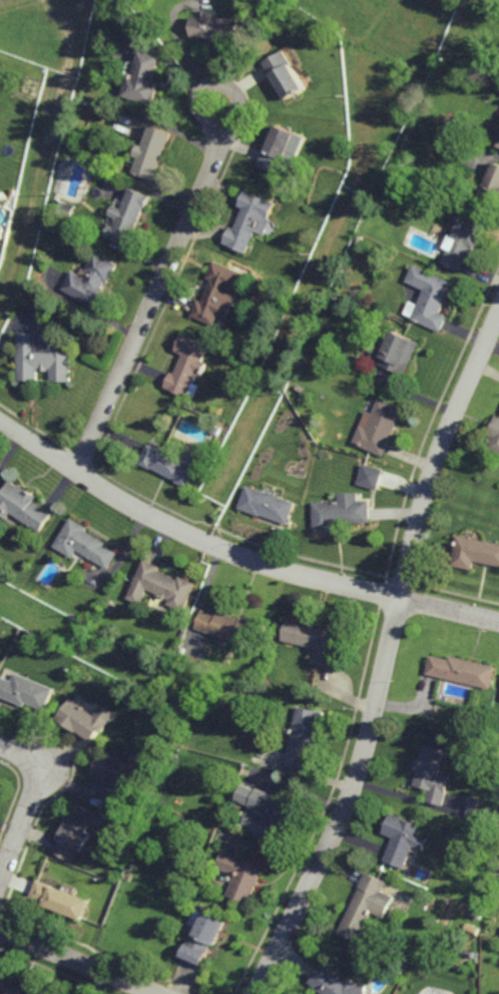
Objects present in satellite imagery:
building: (216, 25)
building: (284, 72)
building: (142, 76)
building: (498, 145)
building: (282, 149)
building: (152, 151)
building: (491, 187)
building: (14, 190)
building: (66, 206)
building: (128, 216)
building: (250, 220)
building: (1, 230)
building: (465, 242)
building: (93, 279)
road: (156, 287)
building: (218, 291)
building: (431, 296)
building: (396, 352)
building: (44, 357)
building: (188, 366)
building: (300, 389)
building: (378, 426)
building: (494, 435)
building: (171, 465)
building: (370, 476)
building: (267, 505)
building: (24, 507)
building: (341, 512)
building: (83, 543)
building: (475, 552)
road: (236, 553)
building: (160, 587)
building: (228, 628)
building: (314, 639)
road: (386, 656)
building: (461, 670)
building: (172, 675)
building: (25, 690)
building: (84, 716)
building: (174, 724)
building: (461, 728)
building: (303, 733)
building: (432, 772)
building: (115, 776)
road: (30, 803)
building: (479, 808)
building: (271, 813)
building: (74, 831)
building: (400, 838)
building: (150, 856)
building: (240, 873)
building: (126, 875)
building: (476, 897)
building: (58, 898)
building: (365, 905)
building: (474, 911)
building: (202, 935)
road: (81, 960)
building: (335, 982)
building: (16, 986)

